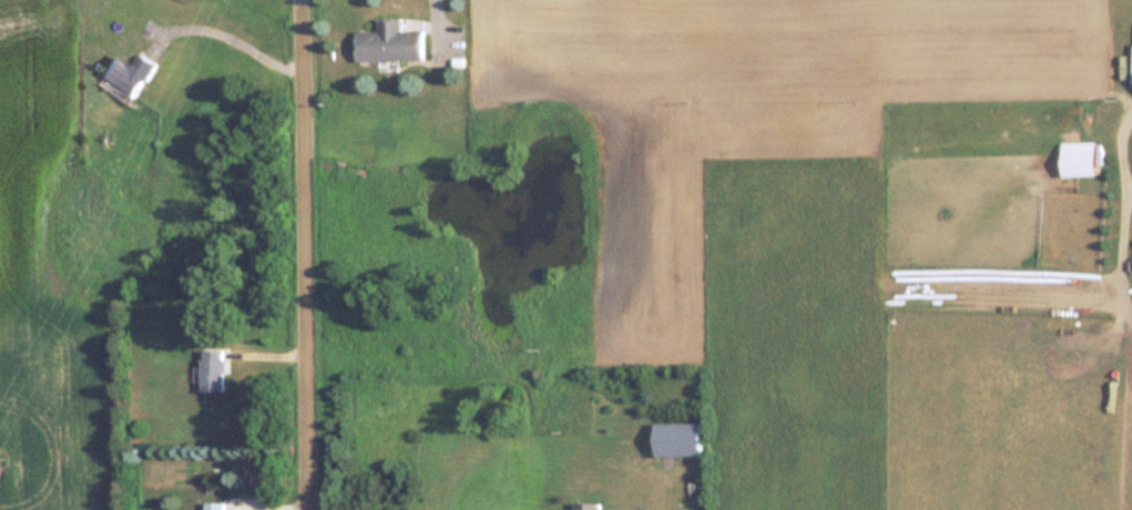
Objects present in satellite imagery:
road: (231, 40)
building: (388, 41)
building: (125, 73)
road: (306, 255)
building: (211, 370)
building: (213, 506)
building: (583, 506)

